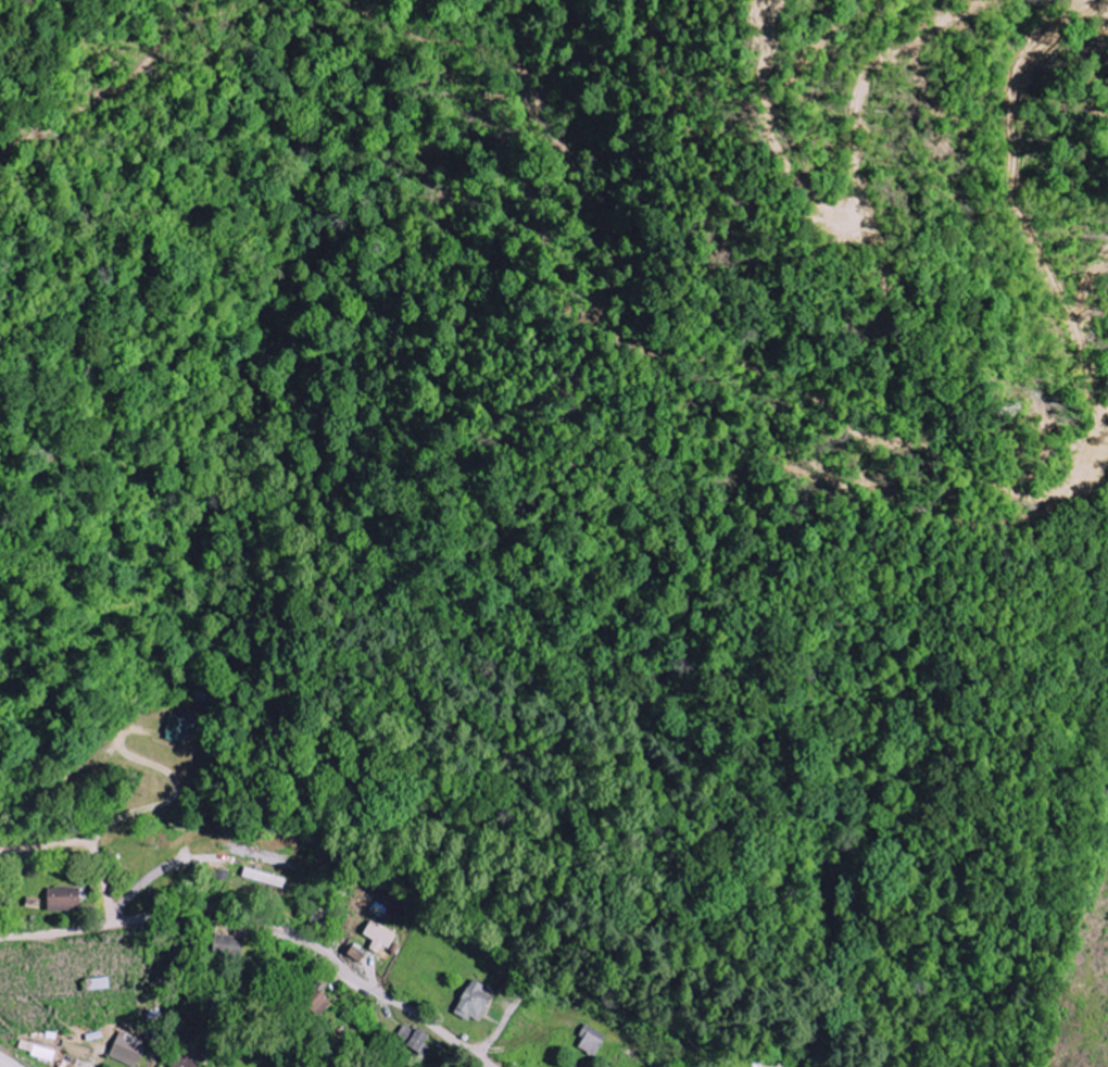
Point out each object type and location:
building: (181, 728)
road: (85, 845)
building: (265, 877)
building: (65, 899)
road: (266, 921)
building: (379, 938)
building: (229, 945)
building: (356, 955)
building: (476, 1001)
road: (612, 1002)
building: (416, 1040)
building: (592, 1040)
building: (127, 1050)
building: (184, 1064)

